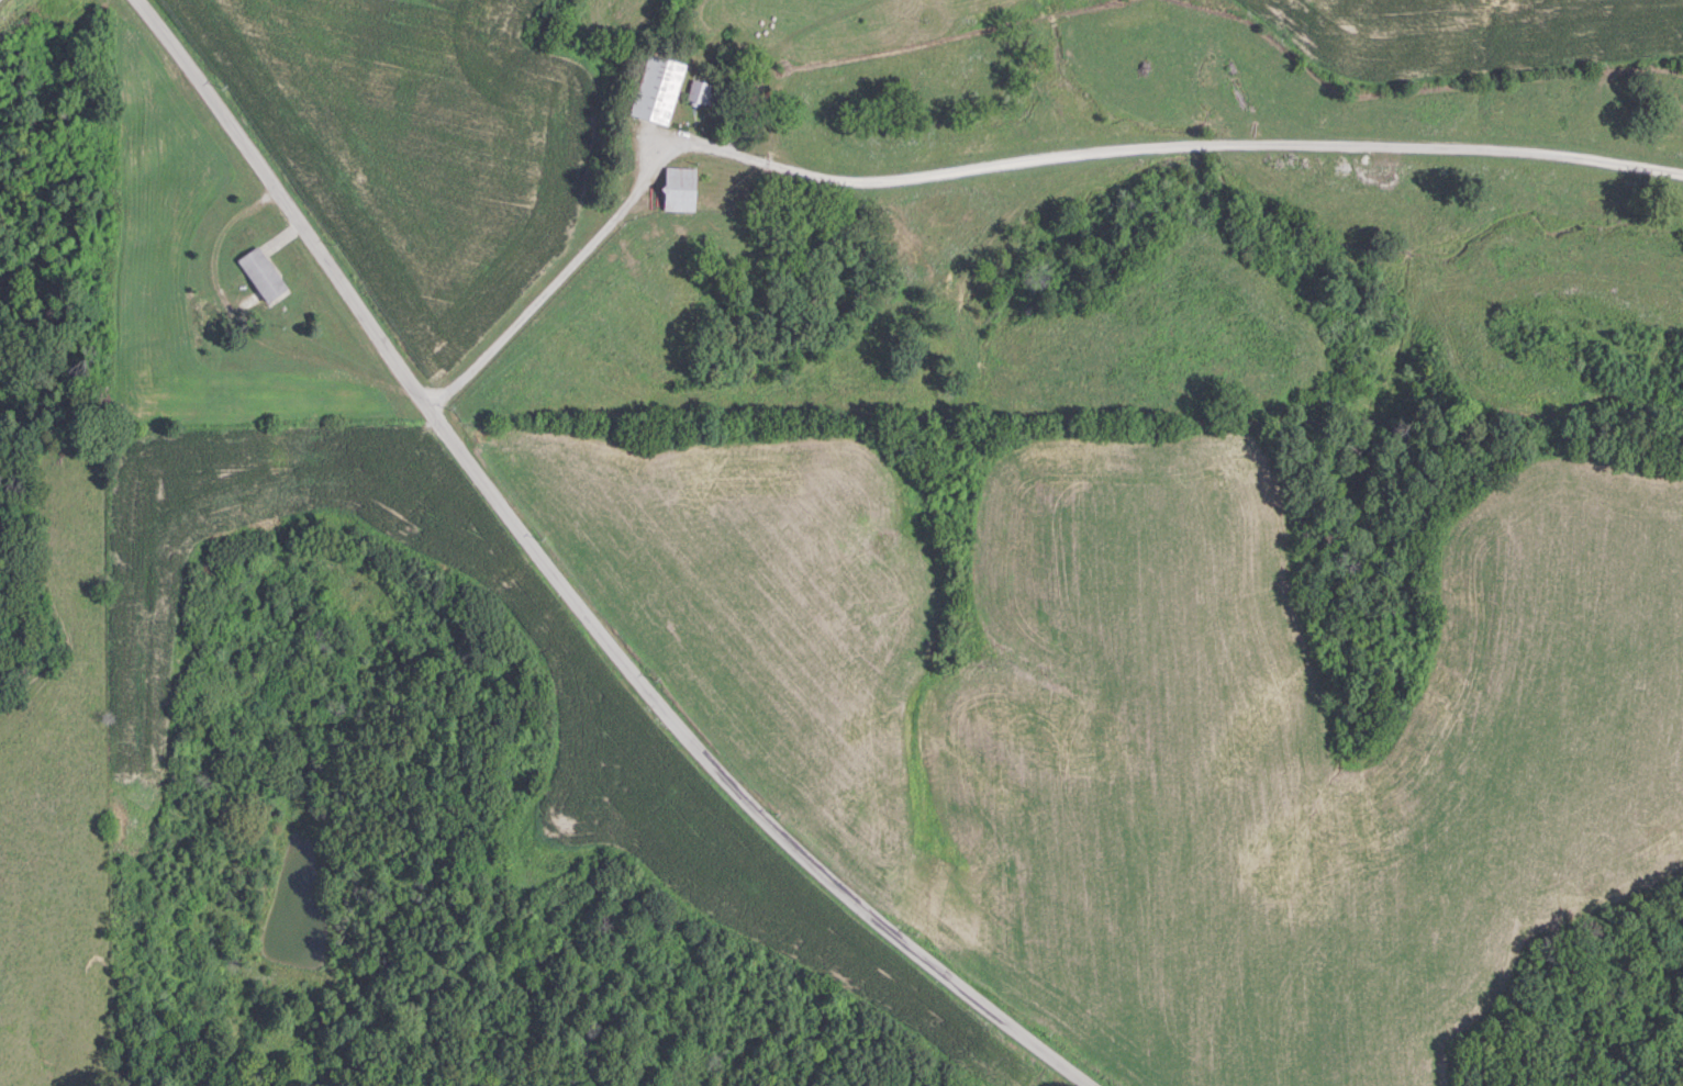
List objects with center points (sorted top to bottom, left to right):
building: (654, 90)
building: (698, 93)
road: (996, 161)
building: (677, 189)
building: (259, 273)
road: (562, 587)

